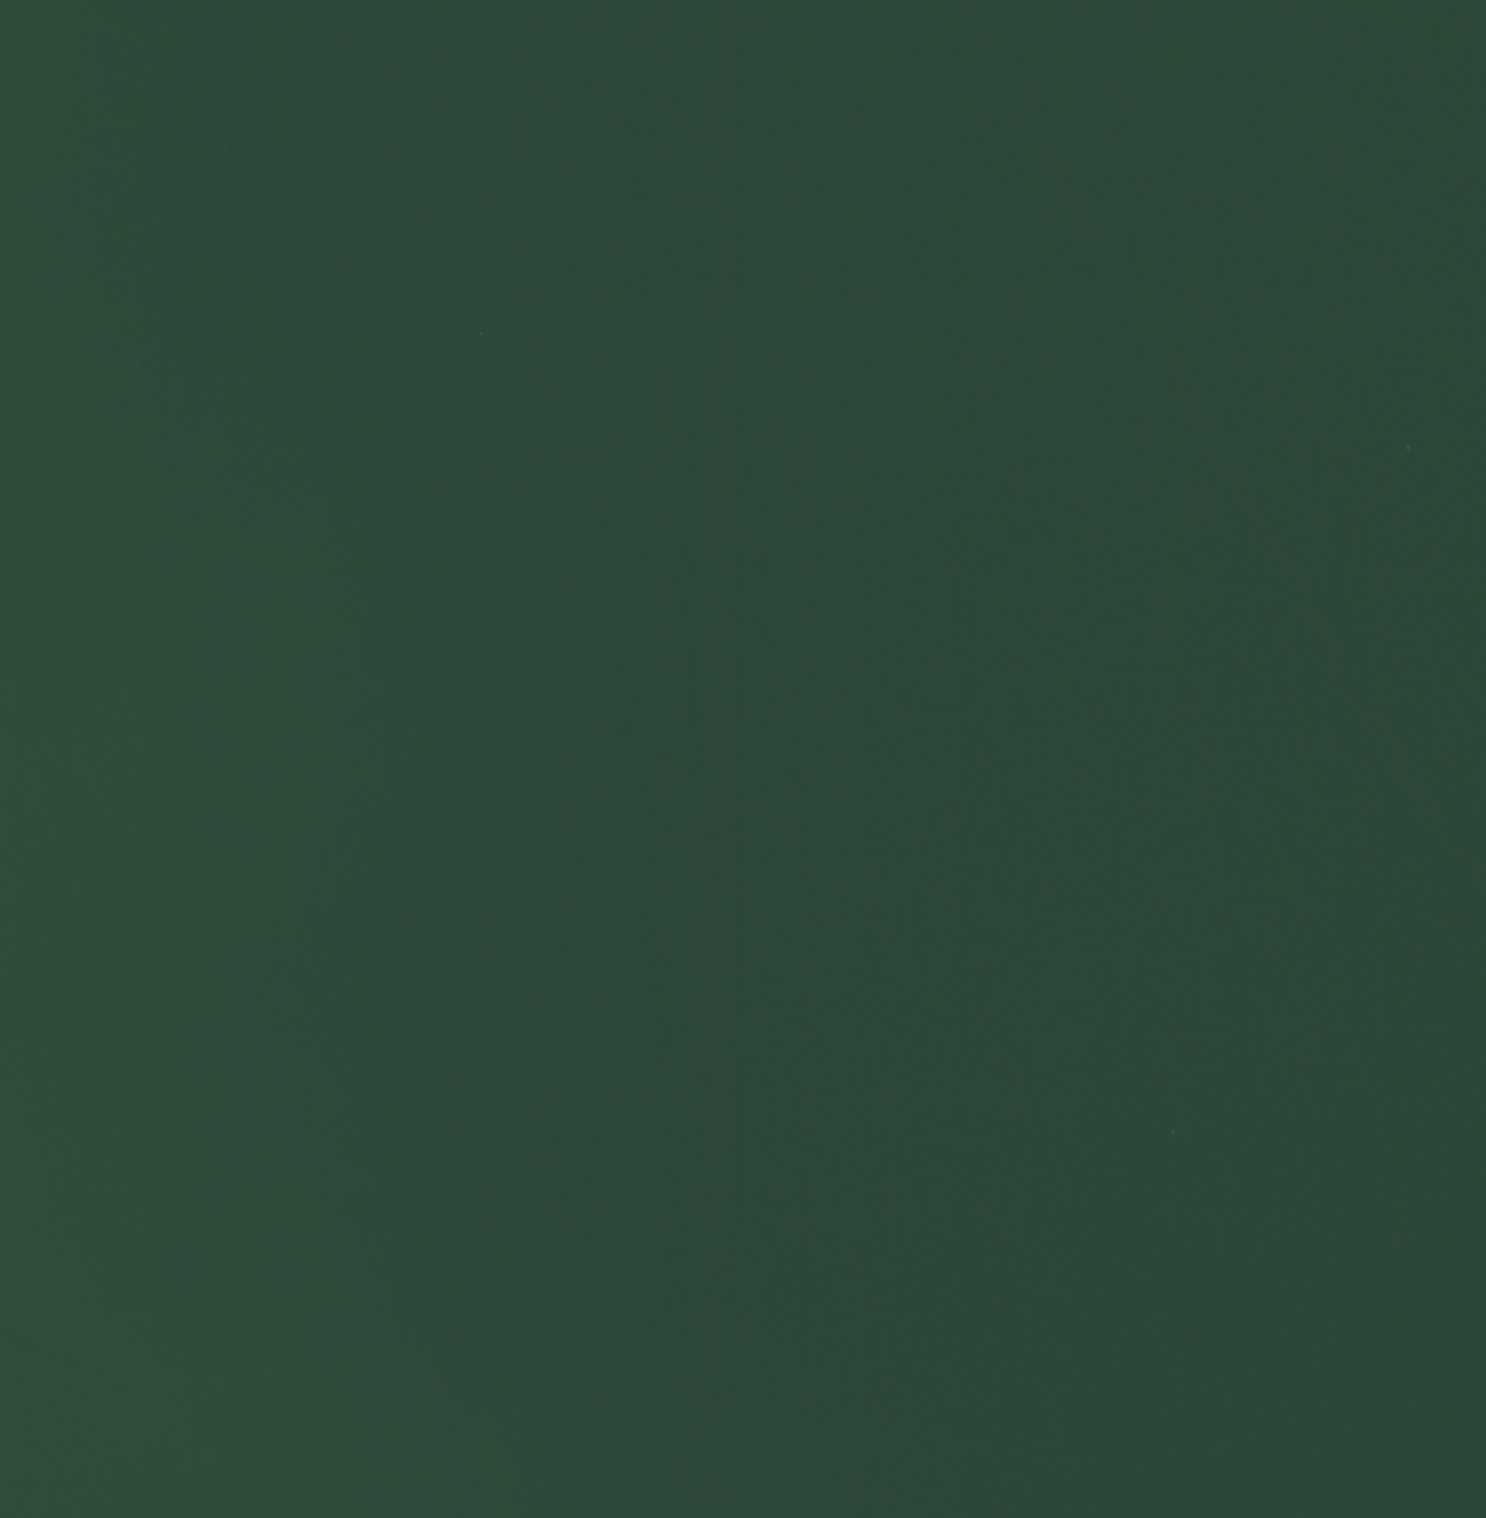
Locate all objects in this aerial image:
river: (1412, 763)

